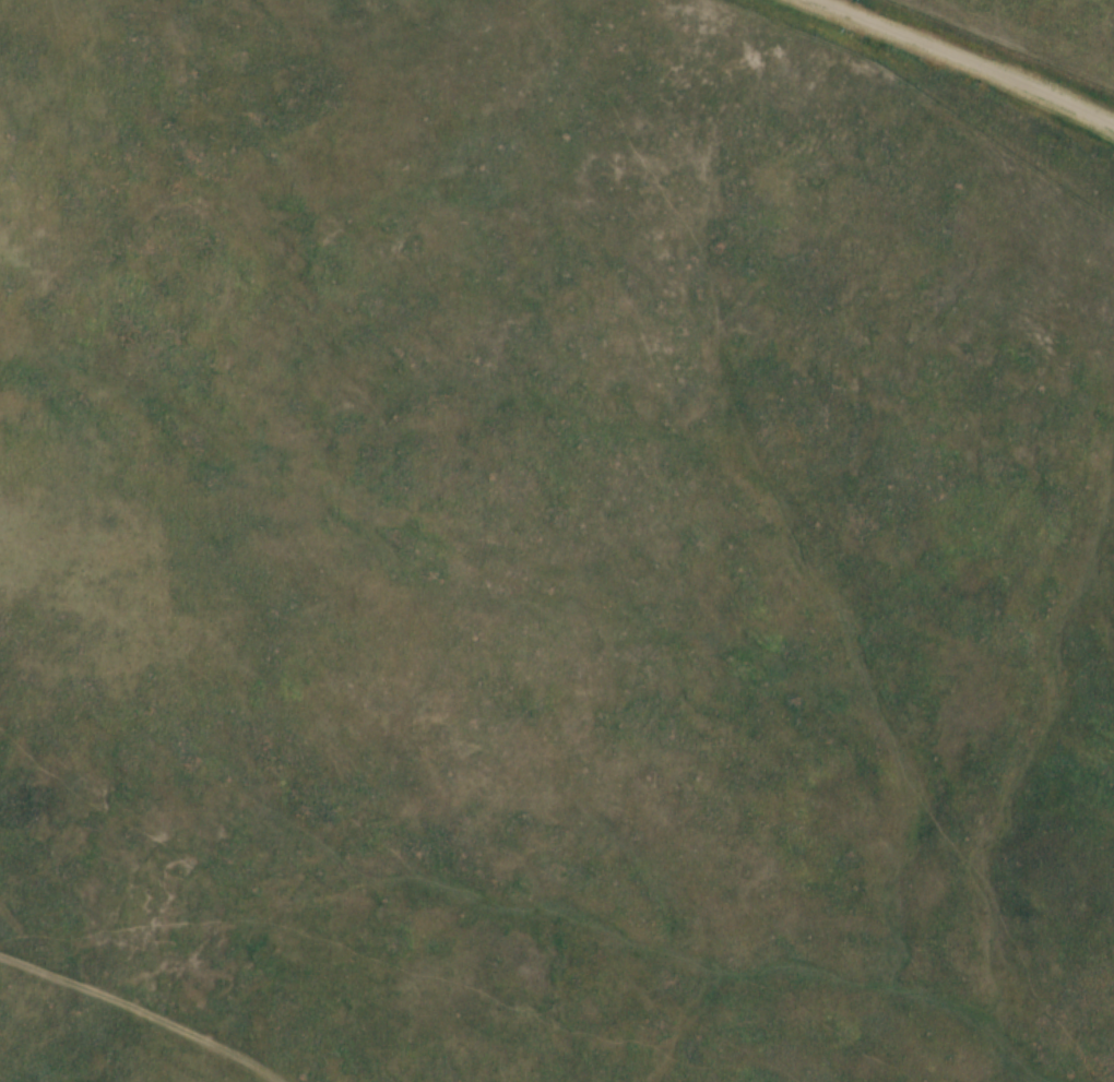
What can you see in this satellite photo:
road: (962, 60)

